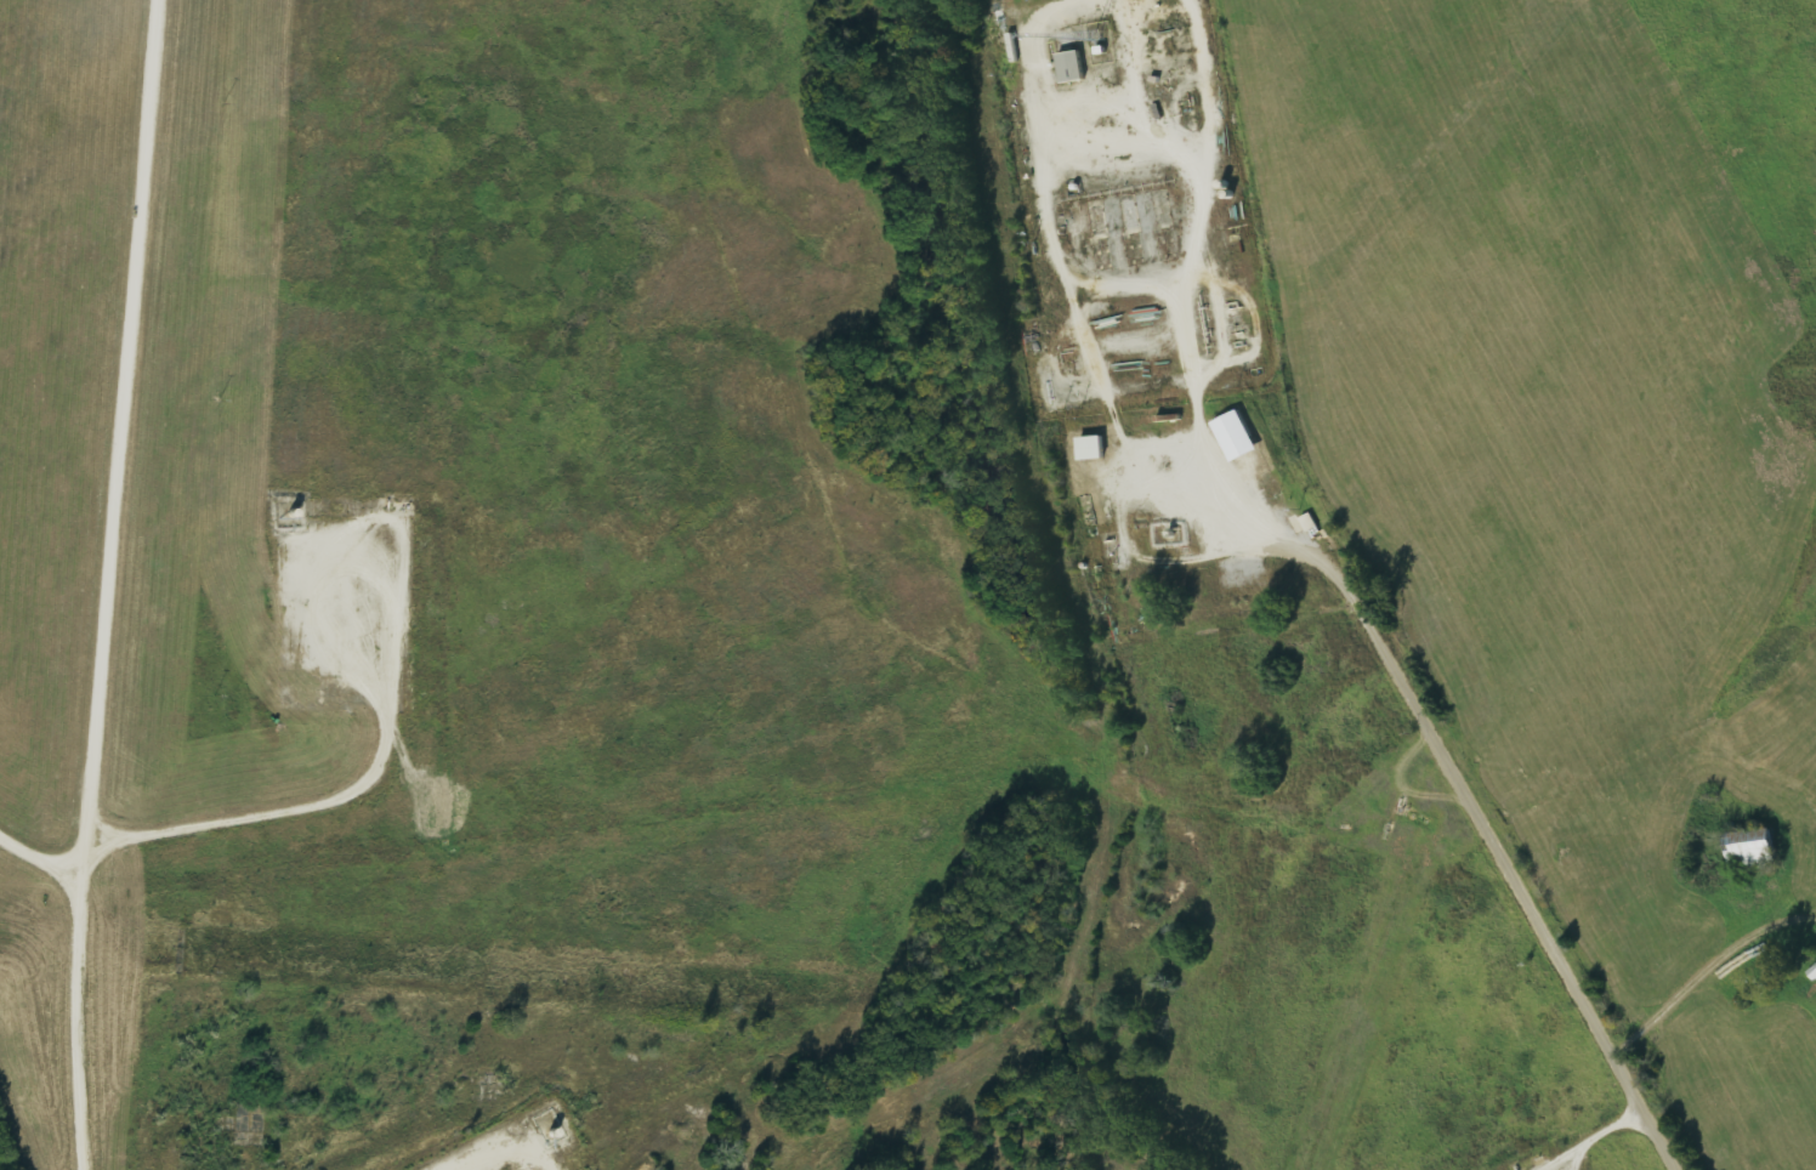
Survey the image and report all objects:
building: (1071, 66)
building: (1235, 436)
building: (1090, 448)
road: (107, 584)
road: (1680, 591)
building: (1750, 850)
road: (1623, 1089)

